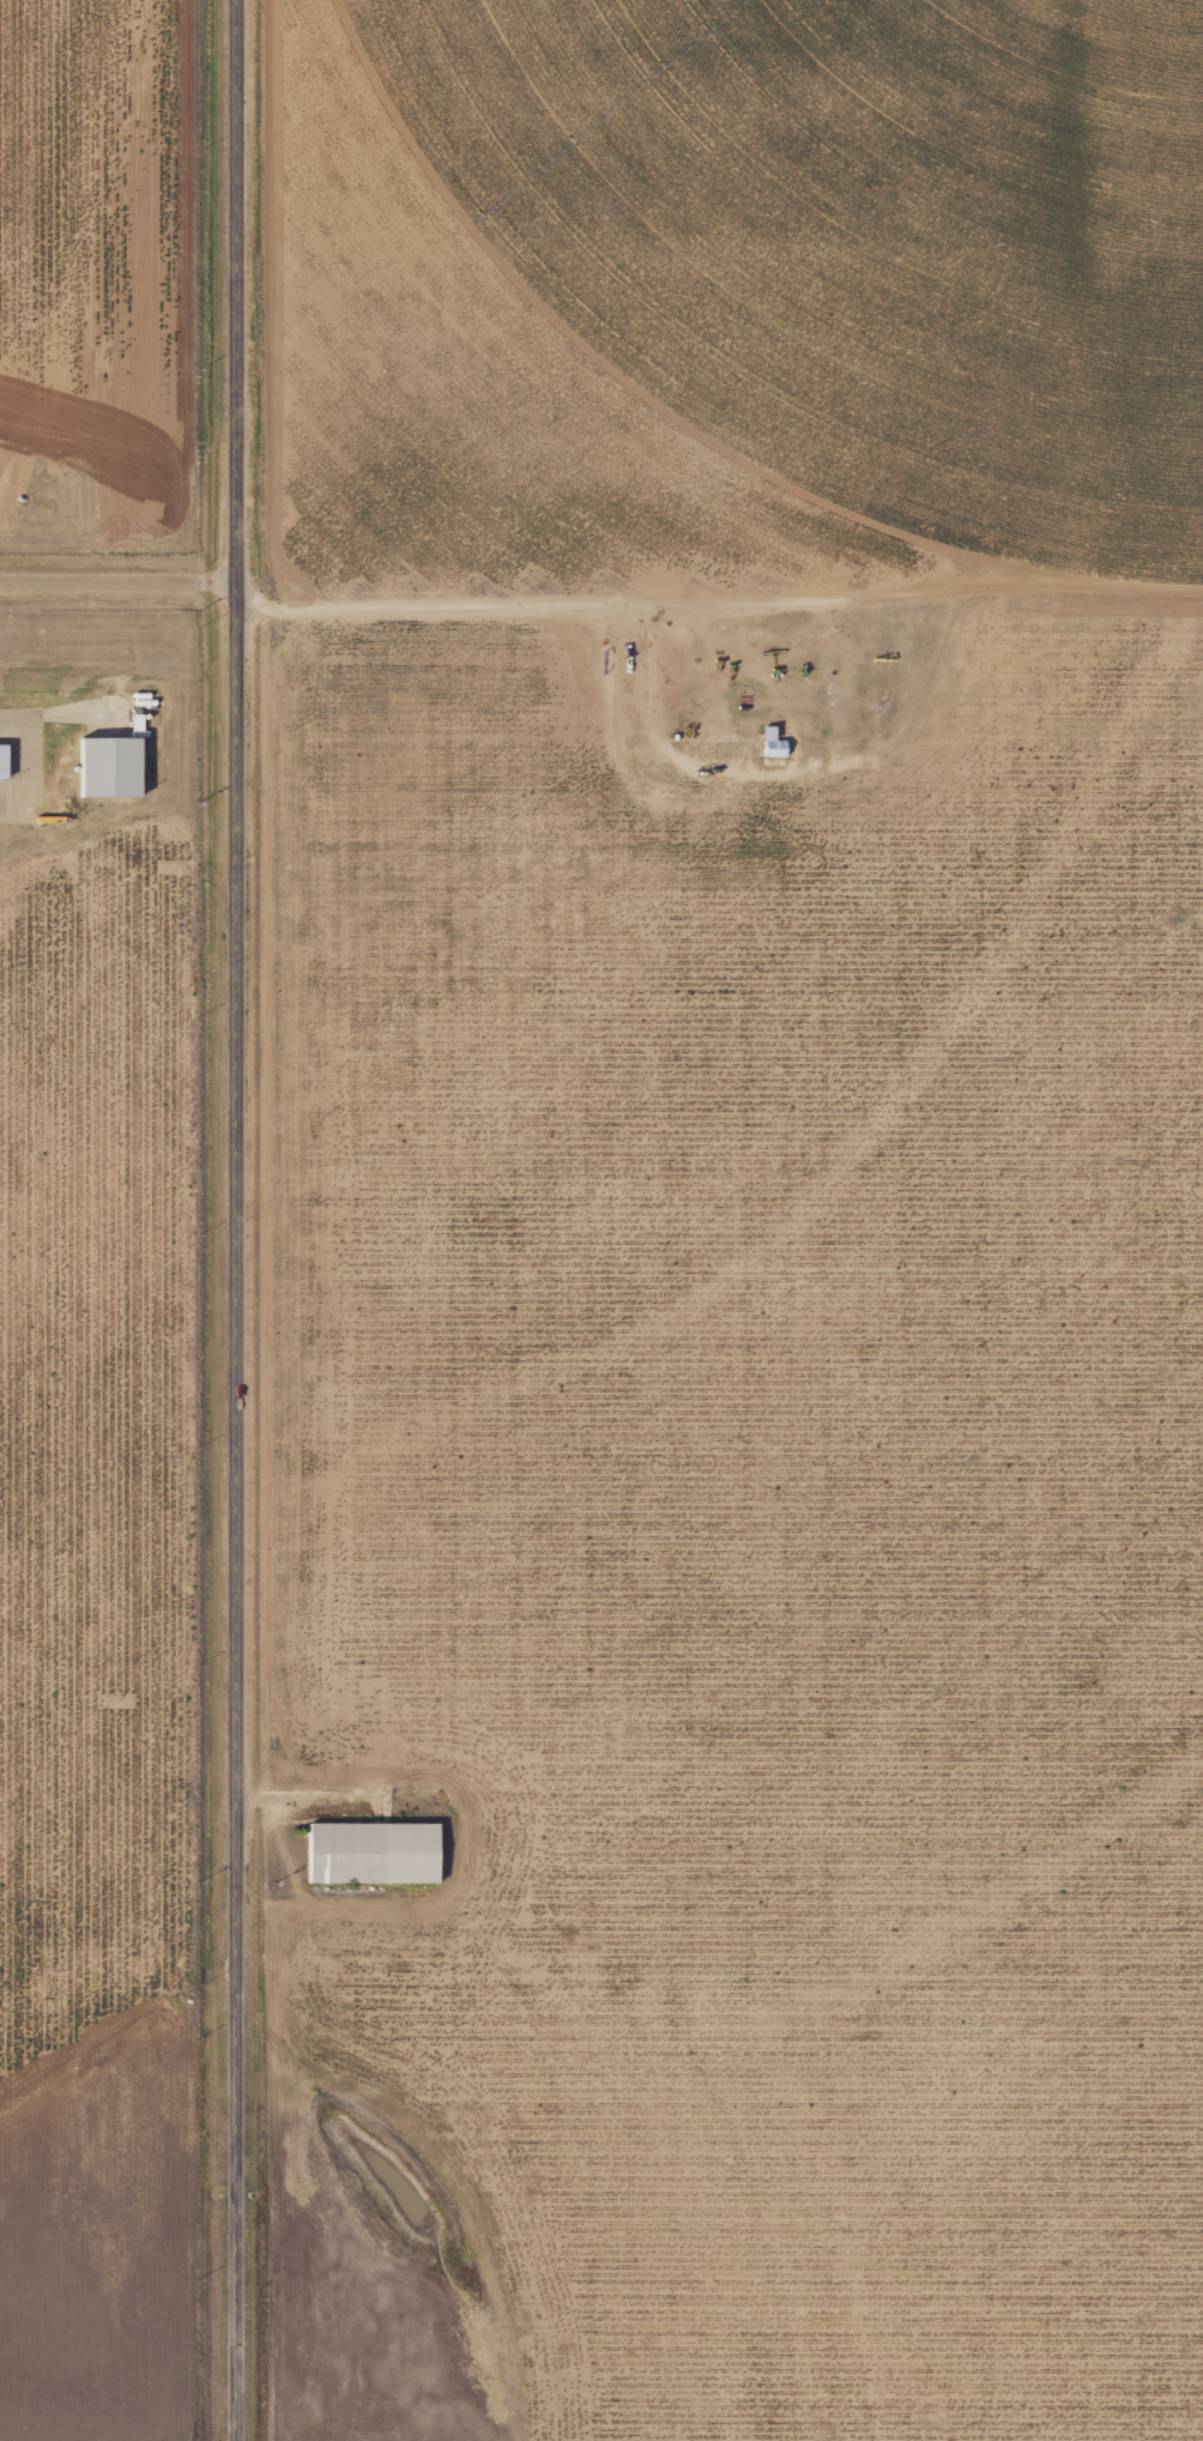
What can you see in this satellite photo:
road: (115, 585)
building: (770, 747)
airport hangar: (0, 762)
building: (0, 762)
airport hangar: (103, 767)
building: (103, 767)
road: (234, 1220)
building: (367, 1855)

